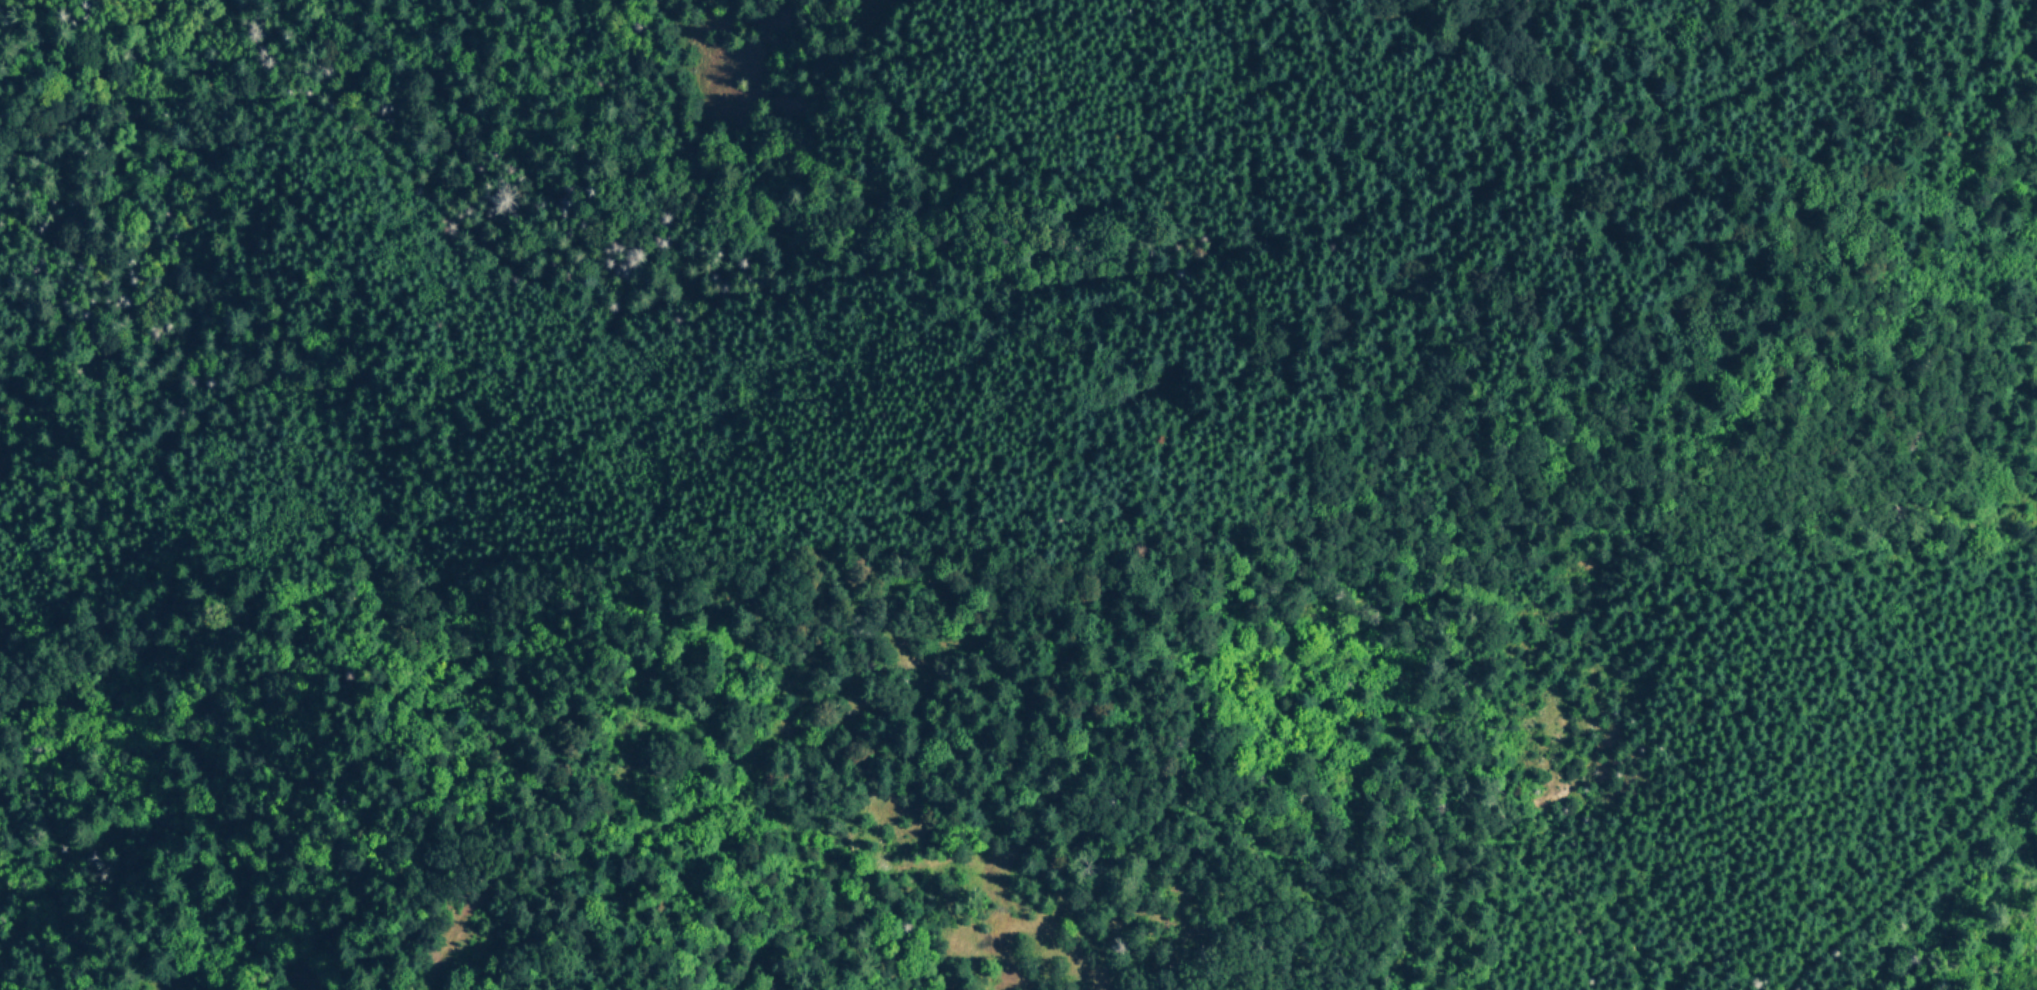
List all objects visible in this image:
road: (1910, 884)

